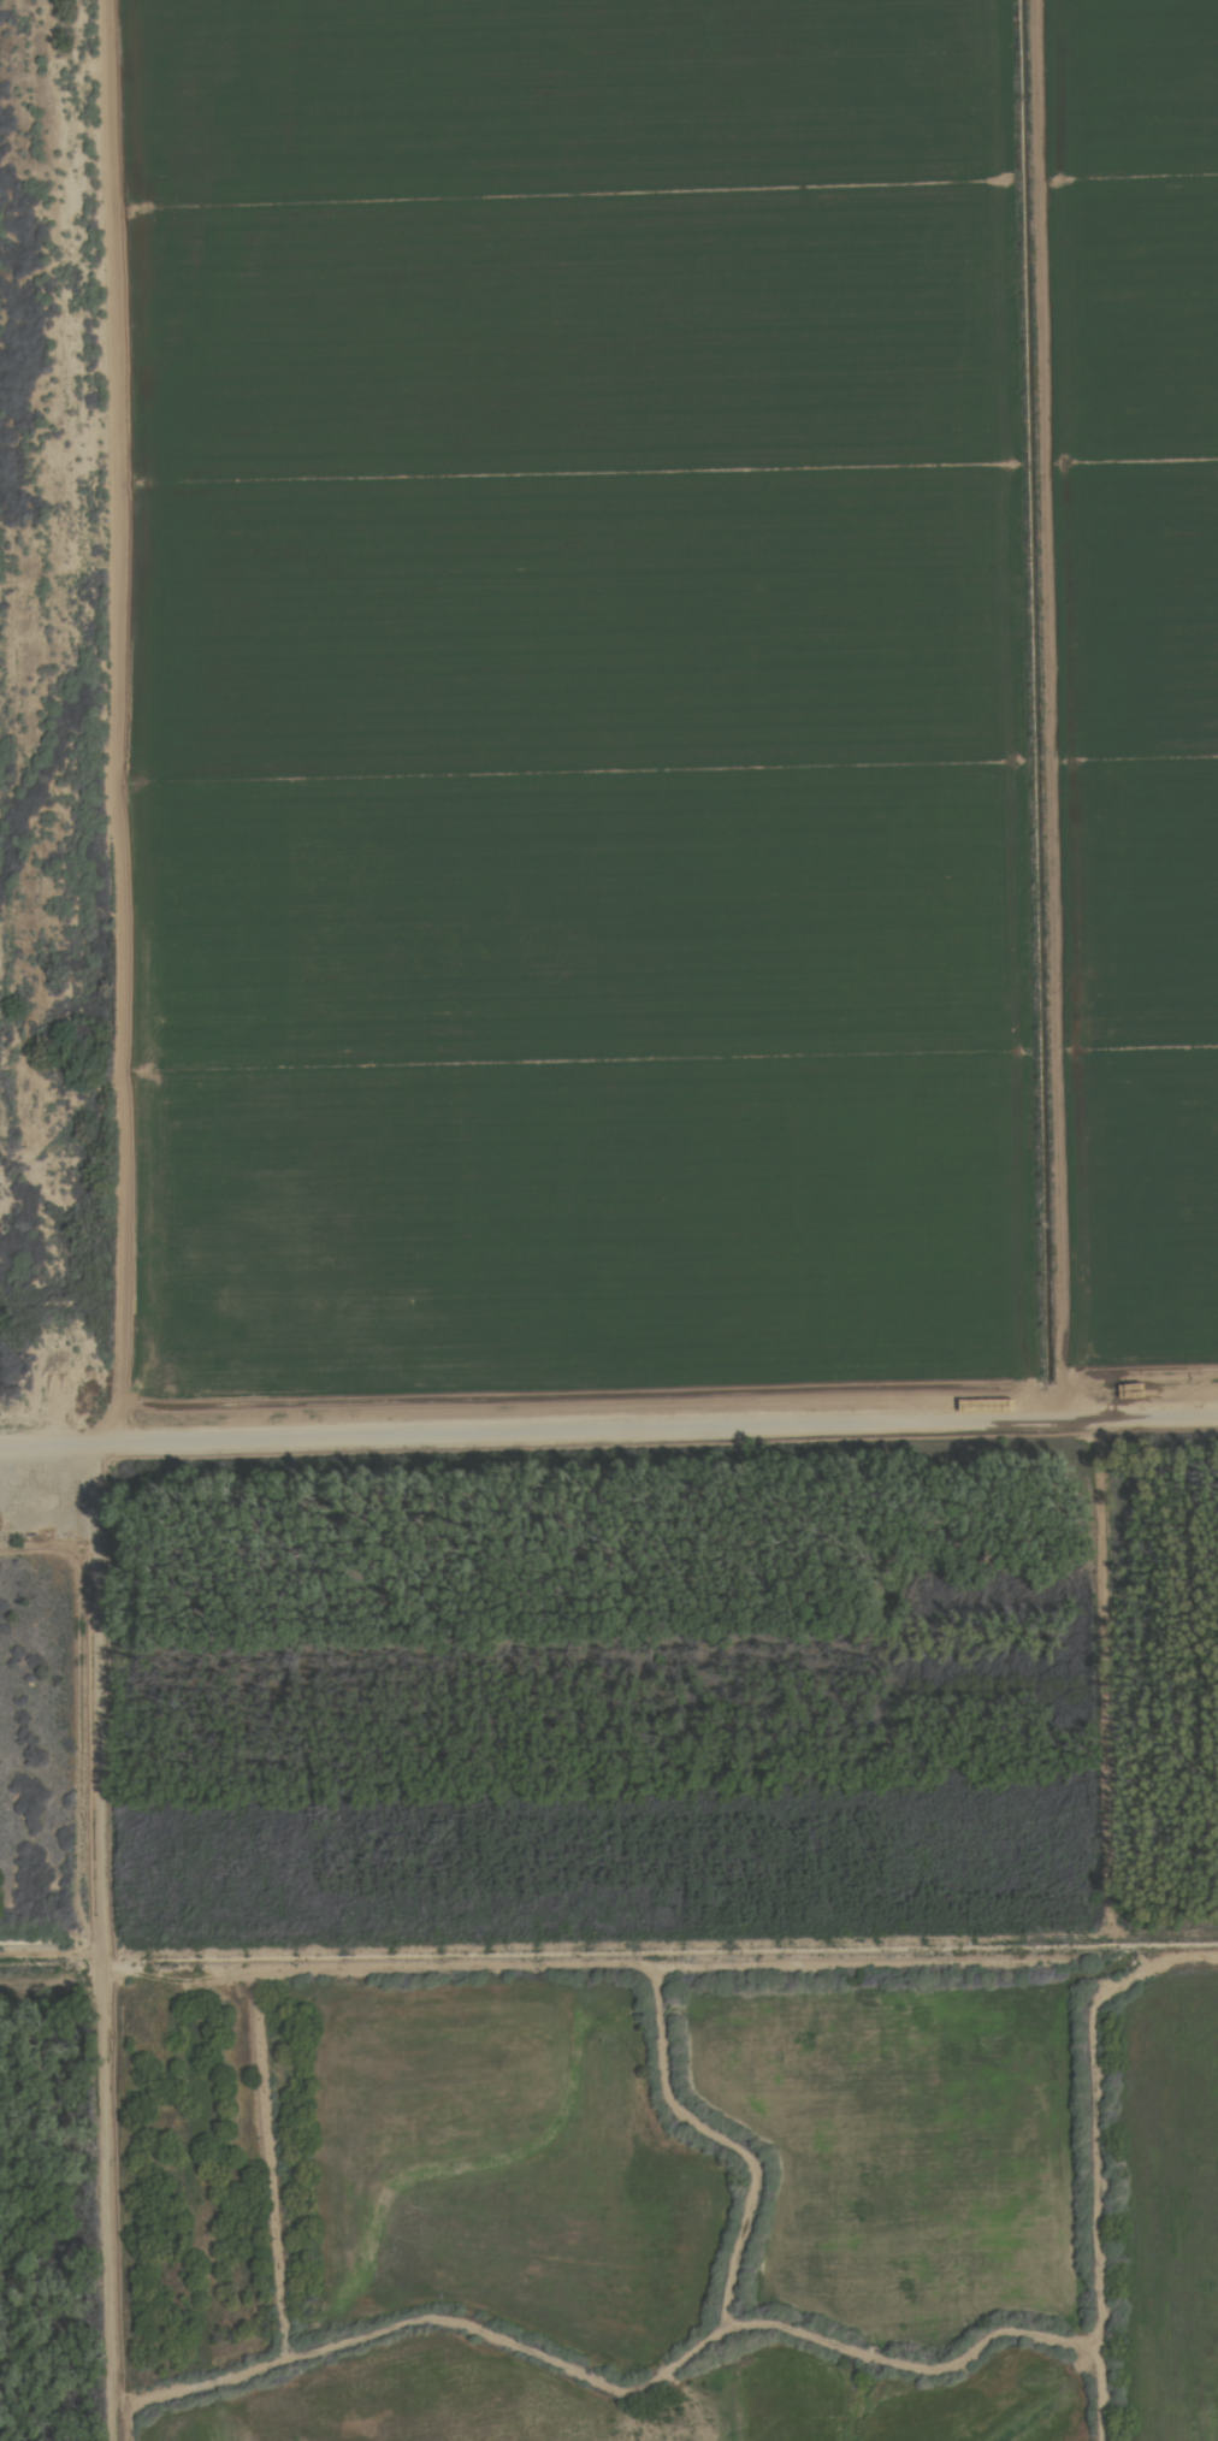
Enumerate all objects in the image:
road: (609, 1428)

